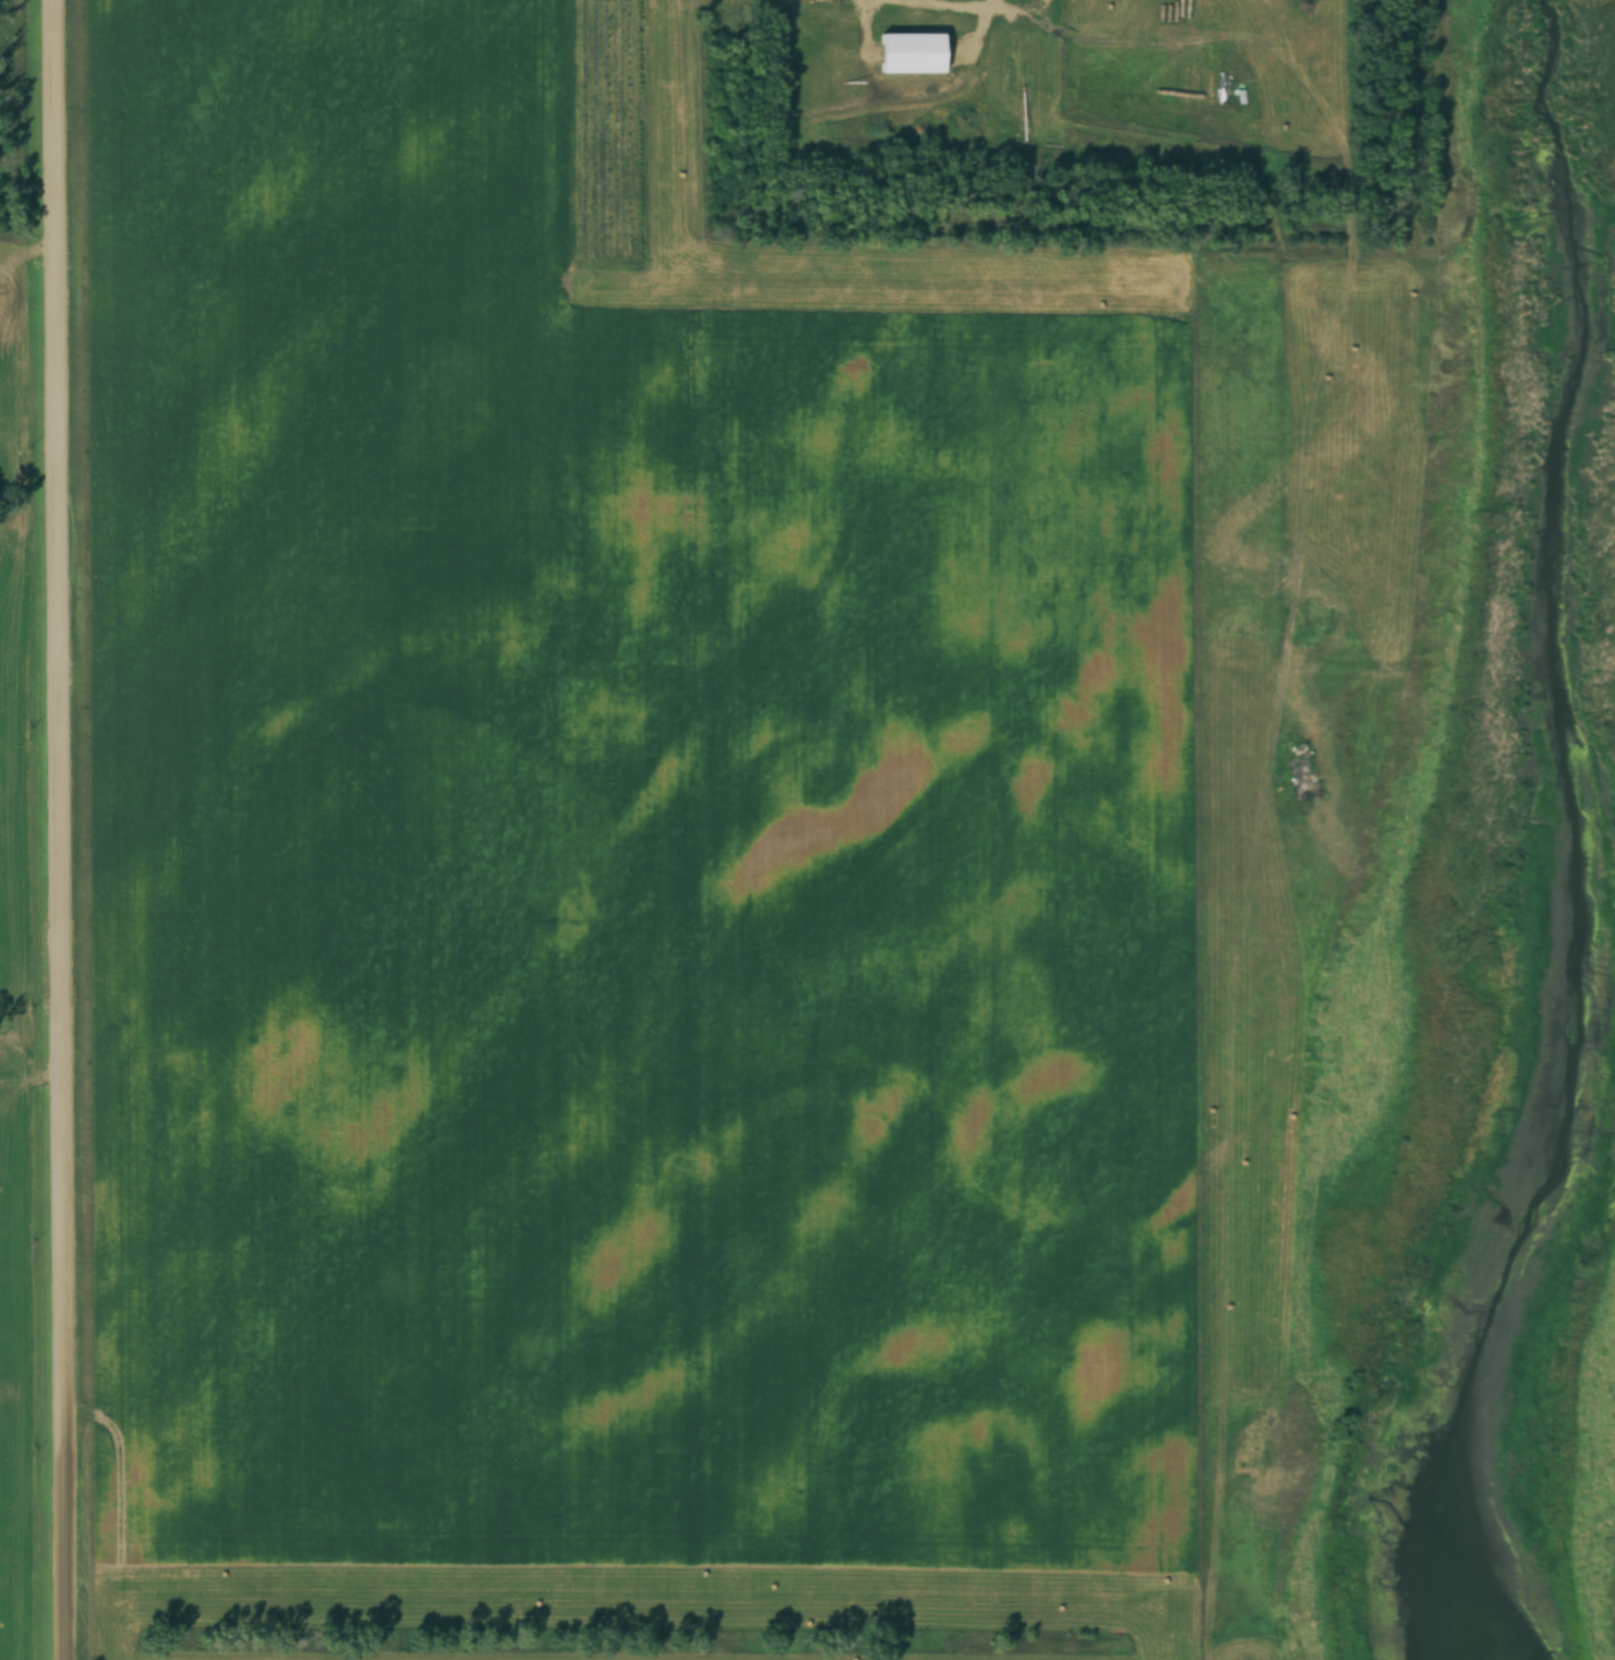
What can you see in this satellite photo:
building: (911, 52)
road: (61, 830)

